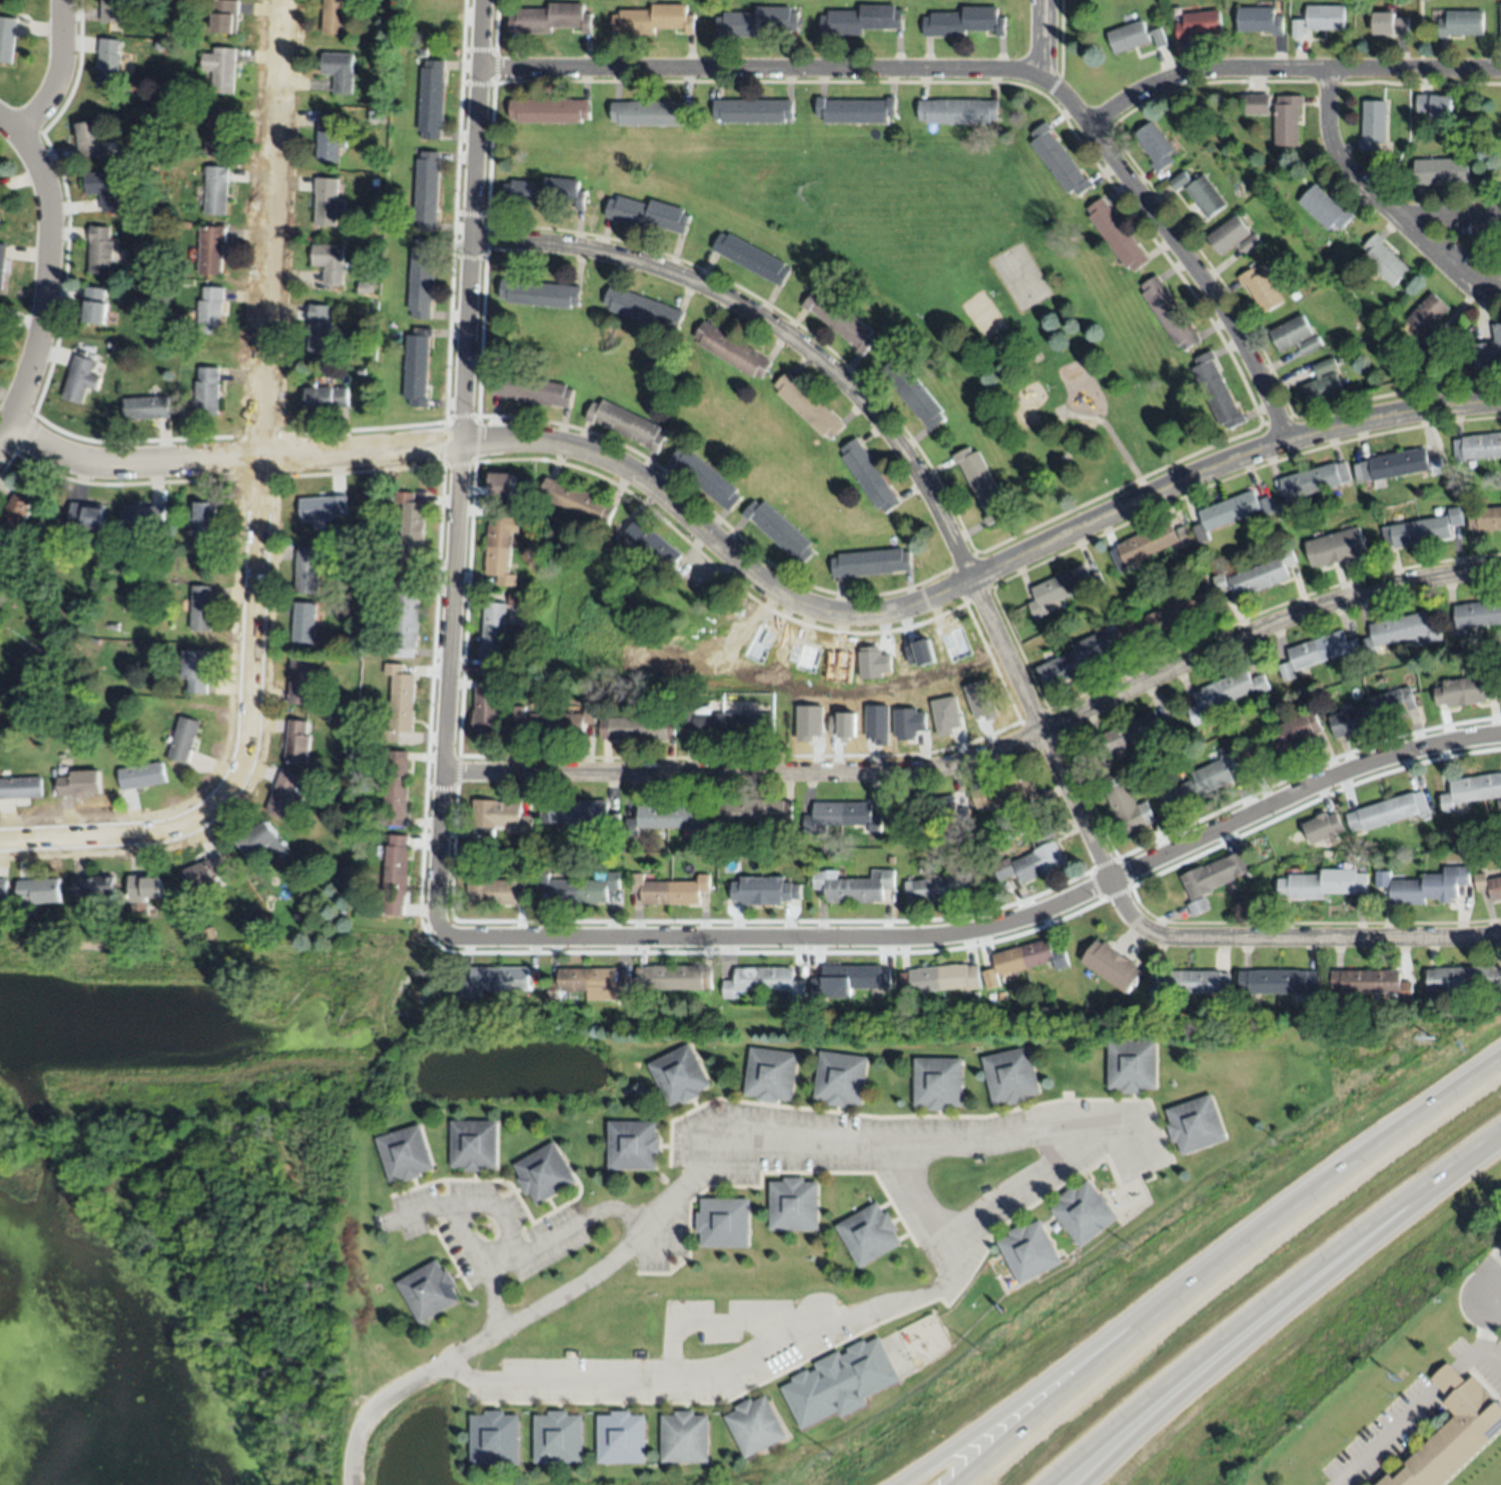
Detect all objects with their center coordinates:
building: (113, 12)
building: (223, 15)
building: (335, 16)
building: (1500, 18)
building: (550, 19)
building: (654, 20)
building: (862, 20)
building: (1259, 20)
building: (1320, 20)
building: (757, 22)
building: (965, 22)
building: (1461, 24)
building: (1199, 25)
building: (1390, 25)
road: (1040, 37)
building: (1134, 37)
building: (6, 39)
building: (157, 44)
building: (107, 64)
road: (1286, 67)
road: (760, 68)
building: (221, 69)
building: (338, 71)
road: (58, 73)
building: (432, 100)
building: (1254, 101)
building: (139, 104)
building: (170, 105)
building: (1435, 106)
building: (549, 110)
building: (752, 111)
building: (856, 111)
building: (957, 111)
building: (651, 113)
building: (376, 117)
building: (1287, 121)
road: (9, 123)
building: (1373, 125)
building: (217, 131)
building: (329, 136)
building: (90, 139)
building: (1155, 146)
road: (1333, 156)
building: (1058, 161)
building: (1441, 171)
building: (375, 181)
building: (103, 189)
building: (216, 189)
building: (427, 191)
building: (544, 192)
building: (1200, 194)
building: (327, 202)
building: (1325, 209)
building: (648, 214)
building: (185, 225)
building: (0, 227)
road: (1412, 229)
building: (1116, 235)
building: (1232, 237)
road: (1176, 248)
building: (211, 250)
building: (100, 251)
building: (751, 258)
building: (1385, 261)
building: (2, 262)
building: (329, 262)
building: (142, 272)
road: (46, 277)
building: (422, 278)
building: (364, 288)
building: (1260, 289)
building: (540, 294)
park: (935, 296)
building: (95, 305)
building: (644, 309)
building: (210, 311)
building: (1169, 313)
building: (1378, 317)
building: (1429, 318)
building: (840, 321)
building: (140, 326)
building: (319, 329)
building: (1294, 336)
building: (1488, 348)
building: (732, 350)
building: (417, 367)
building: (361, 372)
building: (80, 380)
building: (1322, 384)
building: (207, 391)
building: (533, 391)
building: (1216, 392)
building: (913, 393)
building: (326, 398)
building: (808, 407)
building: (146, 408)
building: (625, 424)
road: (3, 428)
road: (896, 443)
building: (1478, 447)
road: (461, 466)
building: (1394, 466)
building: (1436, 466)
building: (869, 476)
building: (705, 479)
building: (1313, 480)
building: (981, 484)
building: (501, 485)
building: (577, 501)
building: (1265, 506)
building: (321, 508)
building: (1231, 510)
building: (16, 511)
building: (1284, 512)
building: (1454, 516)
building: (85, 517)
building: (142, 517)
road: (257, 518)
building: (1485, 519)
building: (204, 524)
building: (410, 529)
building: (1200, 530)
building: (778, 531)
building: (1416, 532)
building: (1184, 535)
building: (652, 544)
building: (499, 545)
building: (1143, 545)
building: (1335, 549)
building: (1287, 557)
building: (108, 559)
building: (870, 562)
building: (119, 568)
building: (306, 570)
road: (751, 573)
building: (0, 576)
building: (1257, 578)
building: (391, 582)
building: (1220, 583)
building: (1202, 584)
building: (1064, 587)
building: (516, 601)
building: (200, 608)
building: (1171, 613)
building: (1478, 614)
building: (405, 623)
building: (1131, 624)
building: (303, 625)
building: (112, 627)
building: (1110, 629)
building: (1402, 632)
building: (55, 639)
building: (493, 639)
building: (1318, 653)
building: (920, 654)
building: (1079, 657)
building: (873, 663)
building: (195, 671)
building: (300, 681)
building: (1477, 690)
building: (1224, 693)
building: (1449, 695)
building: (978, 701)
building: (399, 703)
building: (486, 708)
building: (1372, 712)
building: (945, 716)
building: (553, 722)
building: (730, 723)
building: (809, 723)
building: (877, 724)
building: (908, 724)
building: (843, 726)
building: (637, 729)
building: (1133, 736)
building: (182, 740)
building: (1281, 740)
building: (296, 743)
road: (988, 754)
building: (141, 776)
building: (79, 783)
building: (1197, 786)
building: (20, 788)
building: (396, 788)
building: (1472, 791)
building: (1004, 792)
building: (285, 796)
building: (1025, 807)
building: (1127, 808)
building: (754, 811)
building: (928, 811)
building: (1387, 812)
building: (579, 813)
building: (840, 817)
building: (498, 818)
building: (666, 819)
building: (1323, 829)
building: (342, 837)
building: (263, 840)
building: (890, 859)
building: (1033, 859)
building: (203, 874)
building: (396, 875)
building: (1215, 875)
building: (1323, 884)
building: (92, 886)
building: (853, 886)
building: (1424, 886)
building: (1489, 886)
building: (143, 888)
building: (943, 888)
building: (578, 889)
building: (2, 890)
building: (493, 890)
building: (669, 890)
building: (38, 891)
building: (764, 891)
building: (1197, 906)
road: (989, 927)
building: (208, 937)
road: (1292, 939)
building: (1027, 956)
building: (1112, 966)
building: (990, 977)
building: (674, 978)
building: (938, 978)
building: (1463, 979)
building: (847, 980)
building: (493, 981)
building: (765, 982)
building: (1194, 982)
building: (1279, 982)
building: (1372, 983)
building: (589, 985)
building: (1156, 992)
power tower: (1429, 1039)
building: (1135, 1065)
building: (771, 1073)
building: (680, 1074)
building: (1011, 1075)
building: (841, 1077)
building: (939, 1081)
building: (1198, 1124)
road: (1390, 1132)
building: (474, 1143)
building: (633, 1143)
power tower: (1279, 1143)
building: (405, 1152)
building: (544, 1173)
road: (475, 1202)
building: (793, 1204)
road: (927, 1210)
building: (1086, 1213)
building: (723, 1221)
road: (978, 1227)
building: (869, 1233)
road: (474, 1245)
power tower: (1131, 1247)
road: (546, 1250)
building: (1031, 1251)
road: (1494, 1276)
building: (428, 1290)
road: (1270, 1302)
road: (739, 1320)
road: (1488, 1320)
road: (1121, 1346)
road: (487, 1348)
power tower: (981, 1350)
road: (1478, 1350)
road: (1095, 1351)
road: (1448, 1379)
building: (839, 1382)
road: (1156, 1417)
building: (755, 1425)
building: (1453, 1433)
building: (558, 1436)
road: (1388, 1436)
building: (495, 1437)
building: (621, 1437)
building: (685, 1437)
power tower: (832, 1455)

